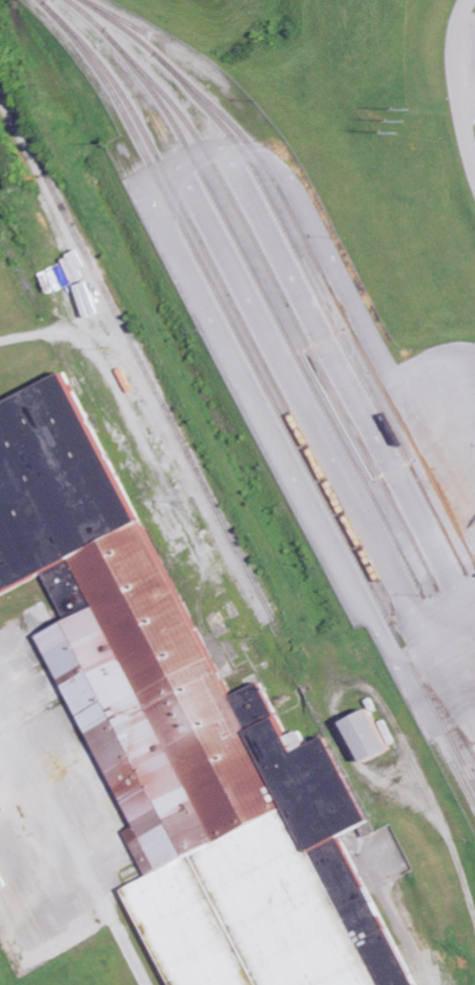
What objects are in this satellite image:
railway: (116, 16)
railway: (302, 262)
railway: (262, 287)
railway: (334, 296)
railway: (230, 297)
railway: (284, 298)
railway: (50, 334)
railway: (266, 389)
railway: (177, 435)
railway: (431, 691)
building: (360, 735)
building: (182, 737)

